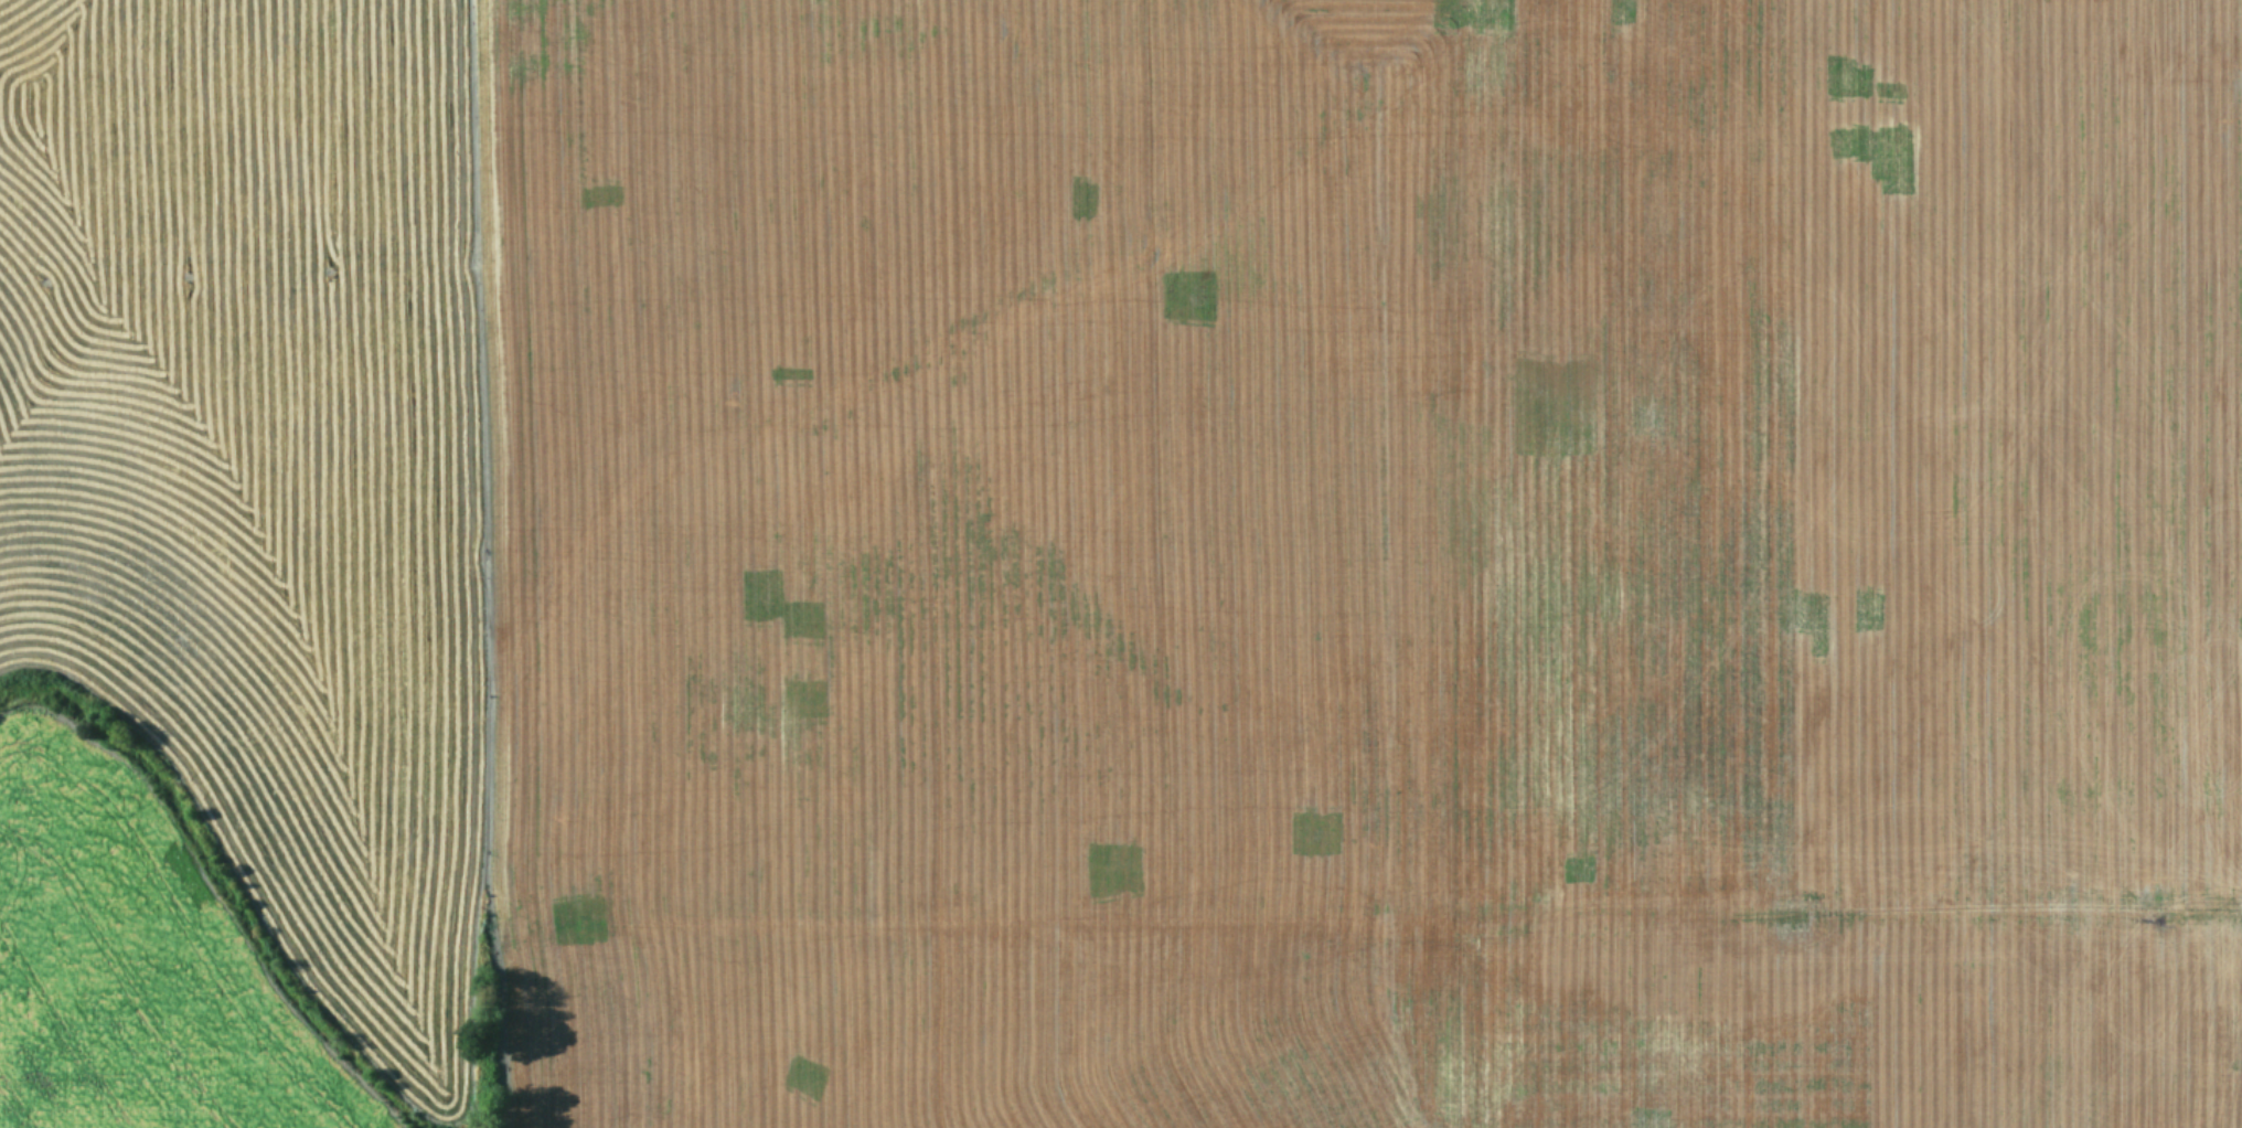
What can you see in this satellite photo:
crop: (1121, 564)

